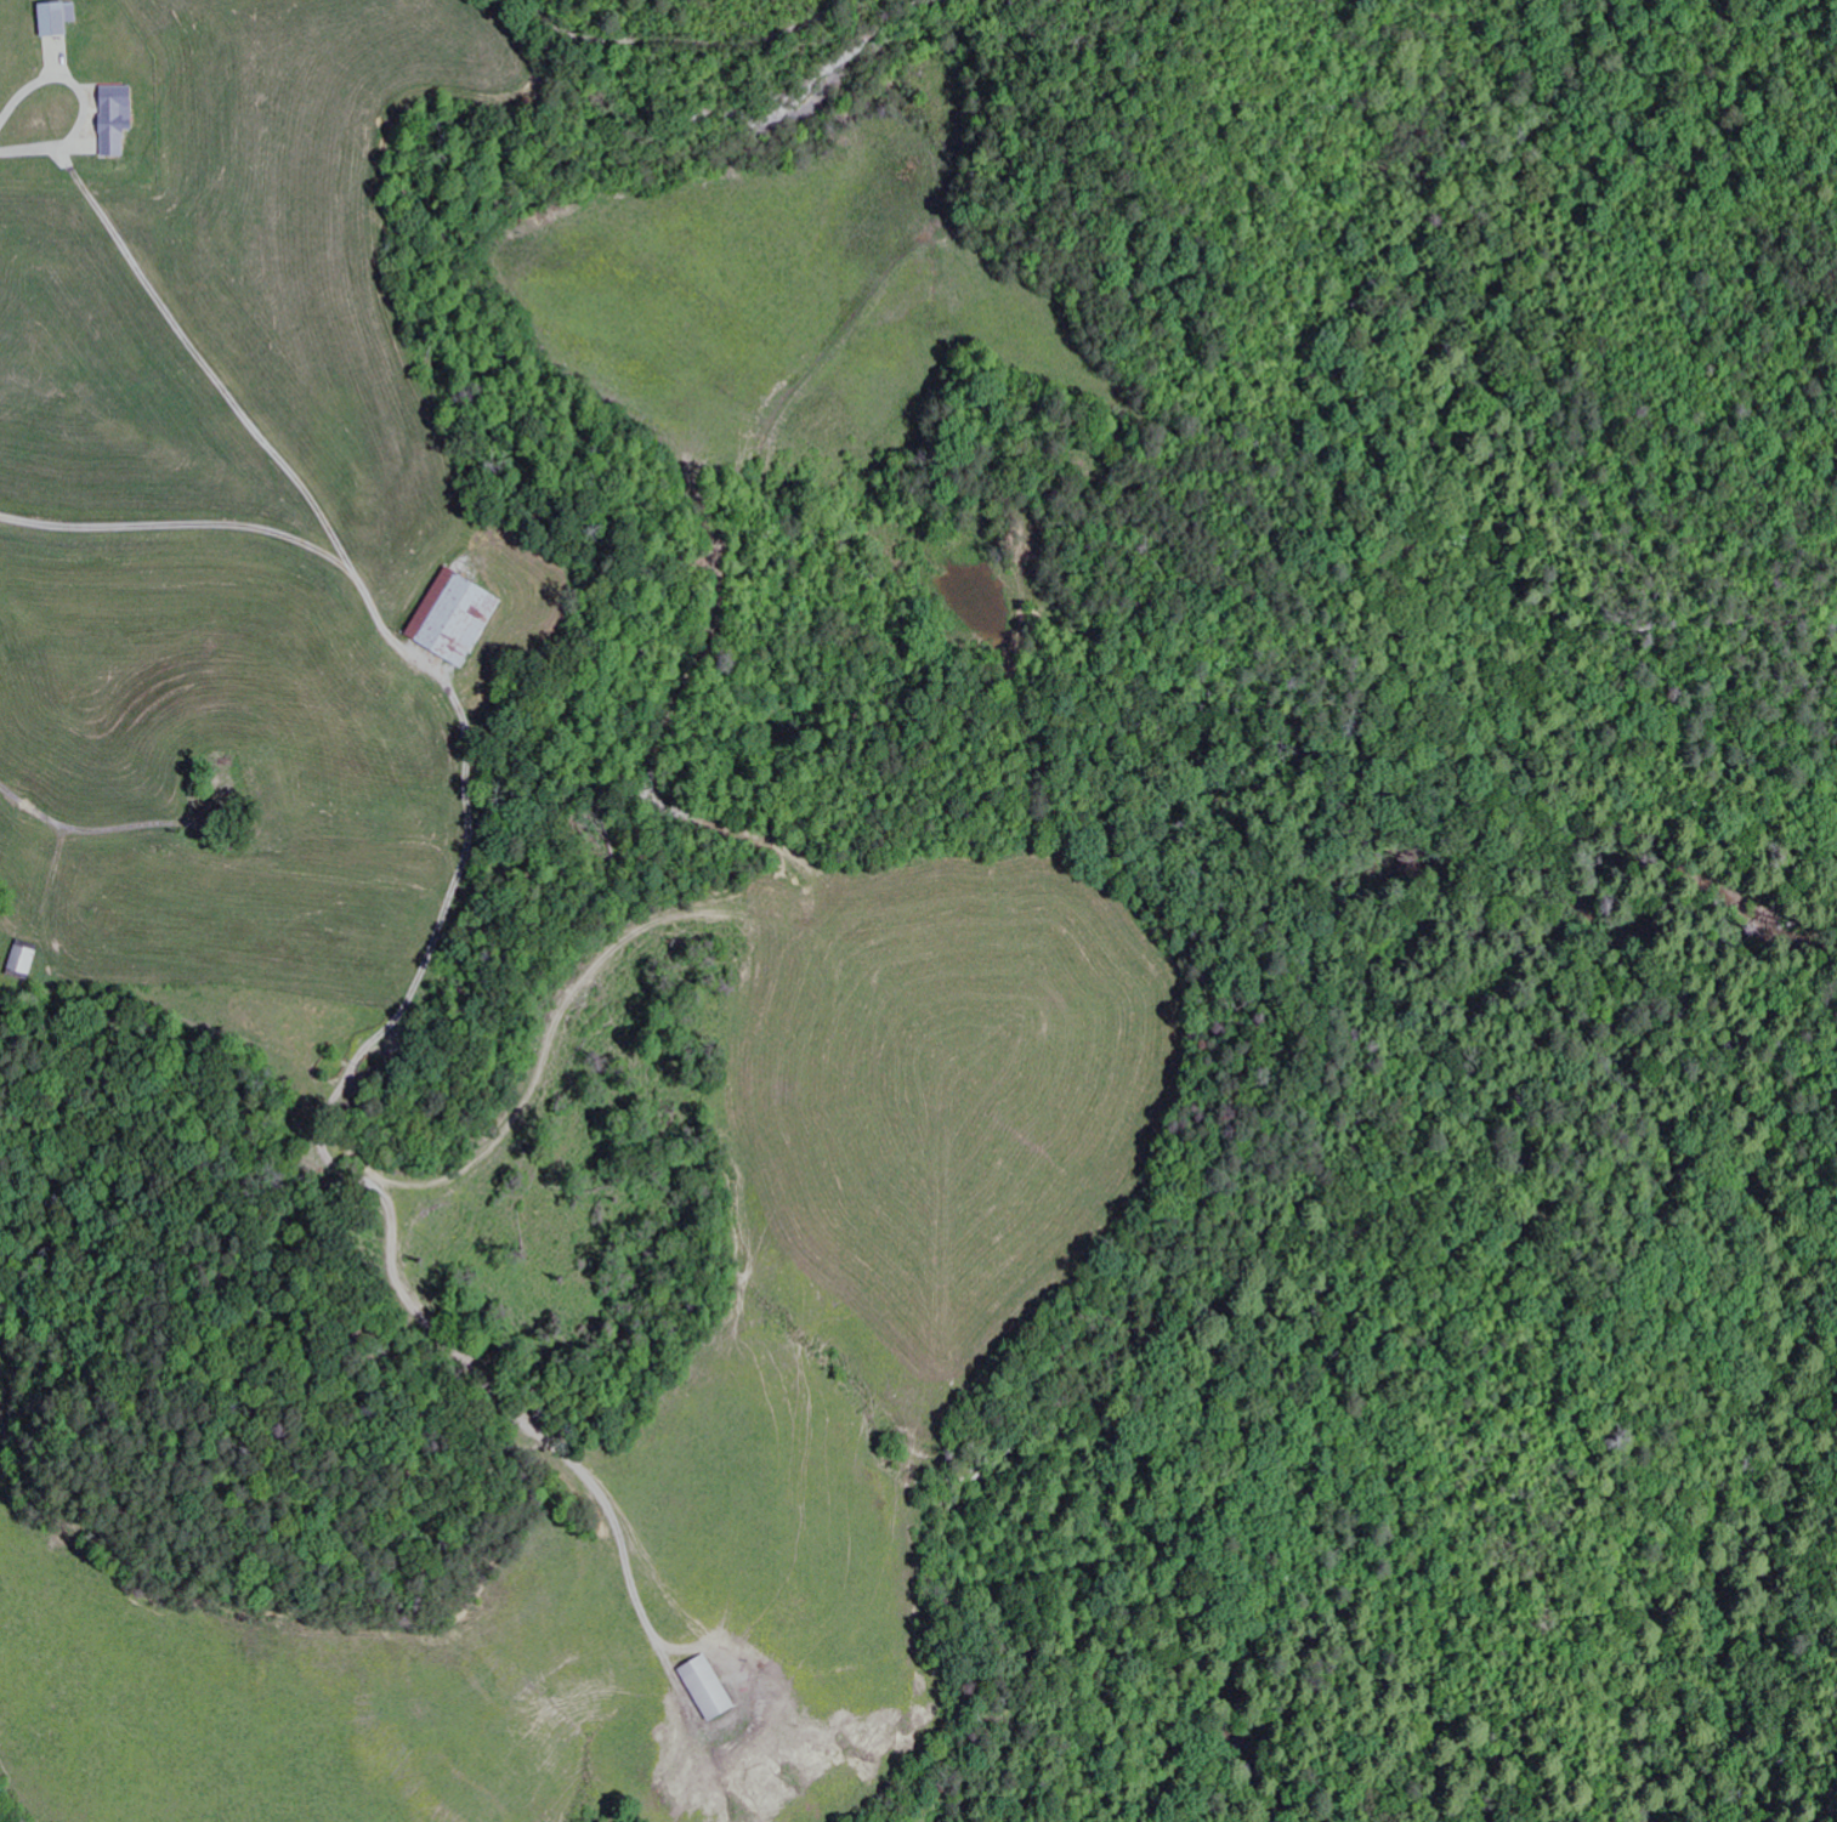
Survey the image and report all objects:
building: (63, 19)
road: (78, 115)
building: (123, 119)
road: (183, 357)
road: (199, 537)
building: (449, 619)
river: (1778, 1159)
building: (714, 1688)
river: (1345, 1749)

